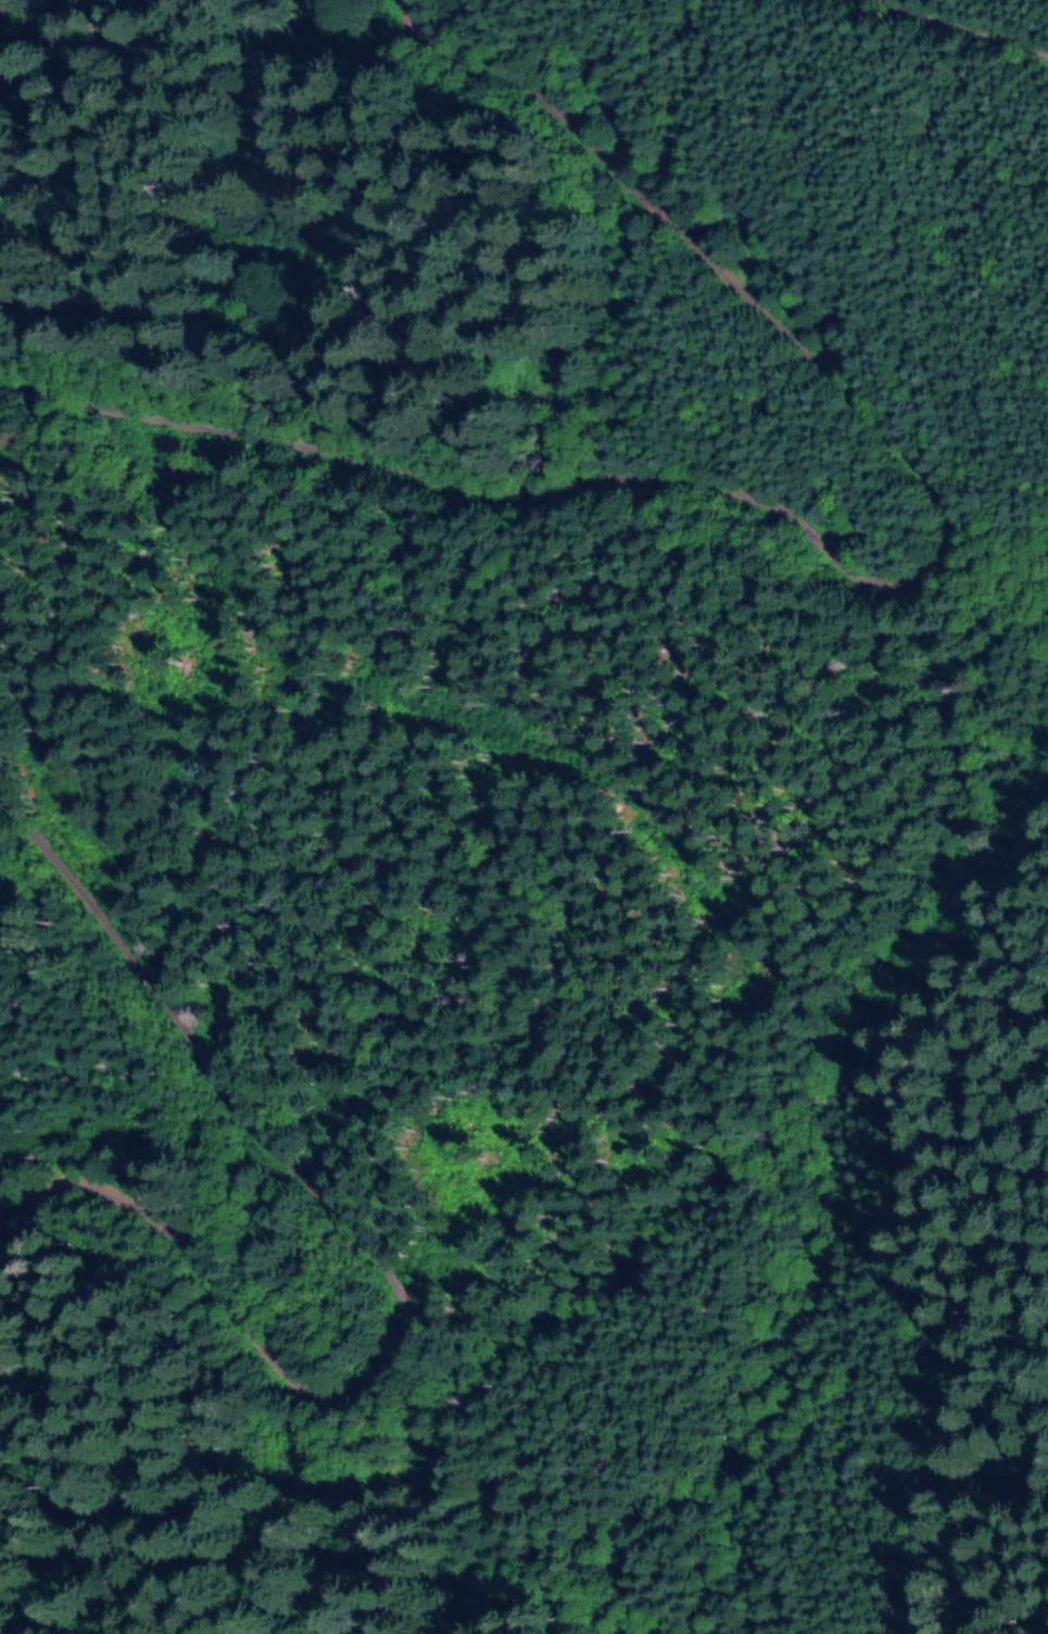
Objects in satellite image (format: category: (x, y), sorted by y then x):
road: (959, 43)
road: (812, 570)
road: (351, 1338)

